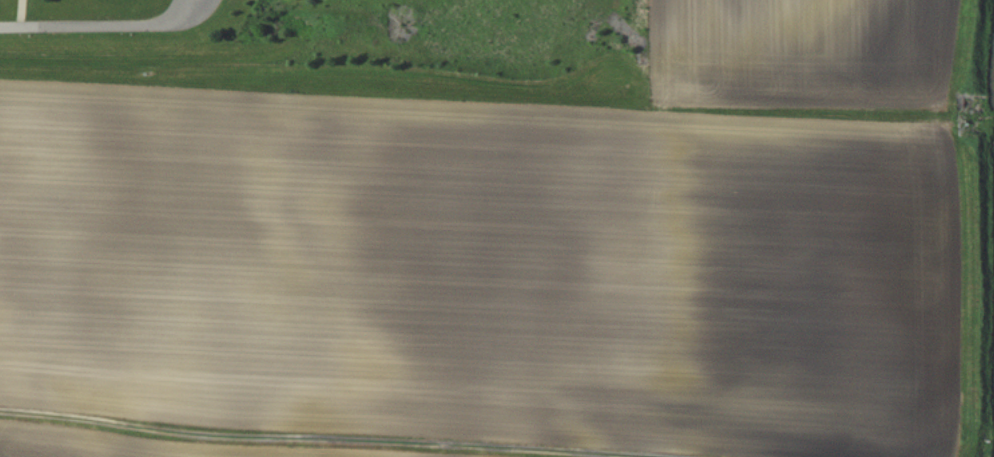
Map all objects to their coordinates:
road: (113, 26)

